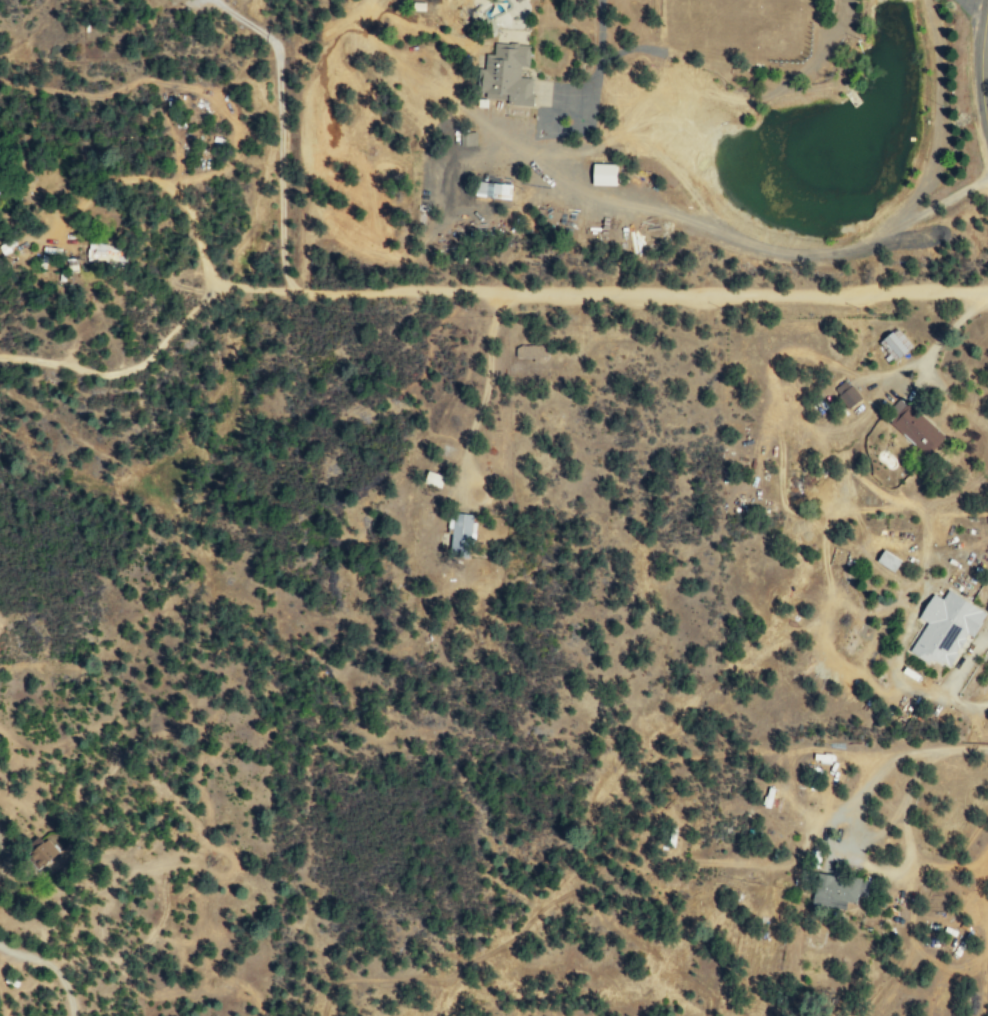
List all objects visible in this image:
road: (981, 63)
building: (509, 74)
building: (607, 173)
building: (496, 189)
road: (607, 294)
building: (898, 343)
building: (532, 351)
road: (128, 368)
building: (847, 393)
building: (918, 427)
building: (464, 532)
building: (890, 559)
building: (948, 625)
building: (47, 850)
building: (840, 891)
road: (53, 966)

